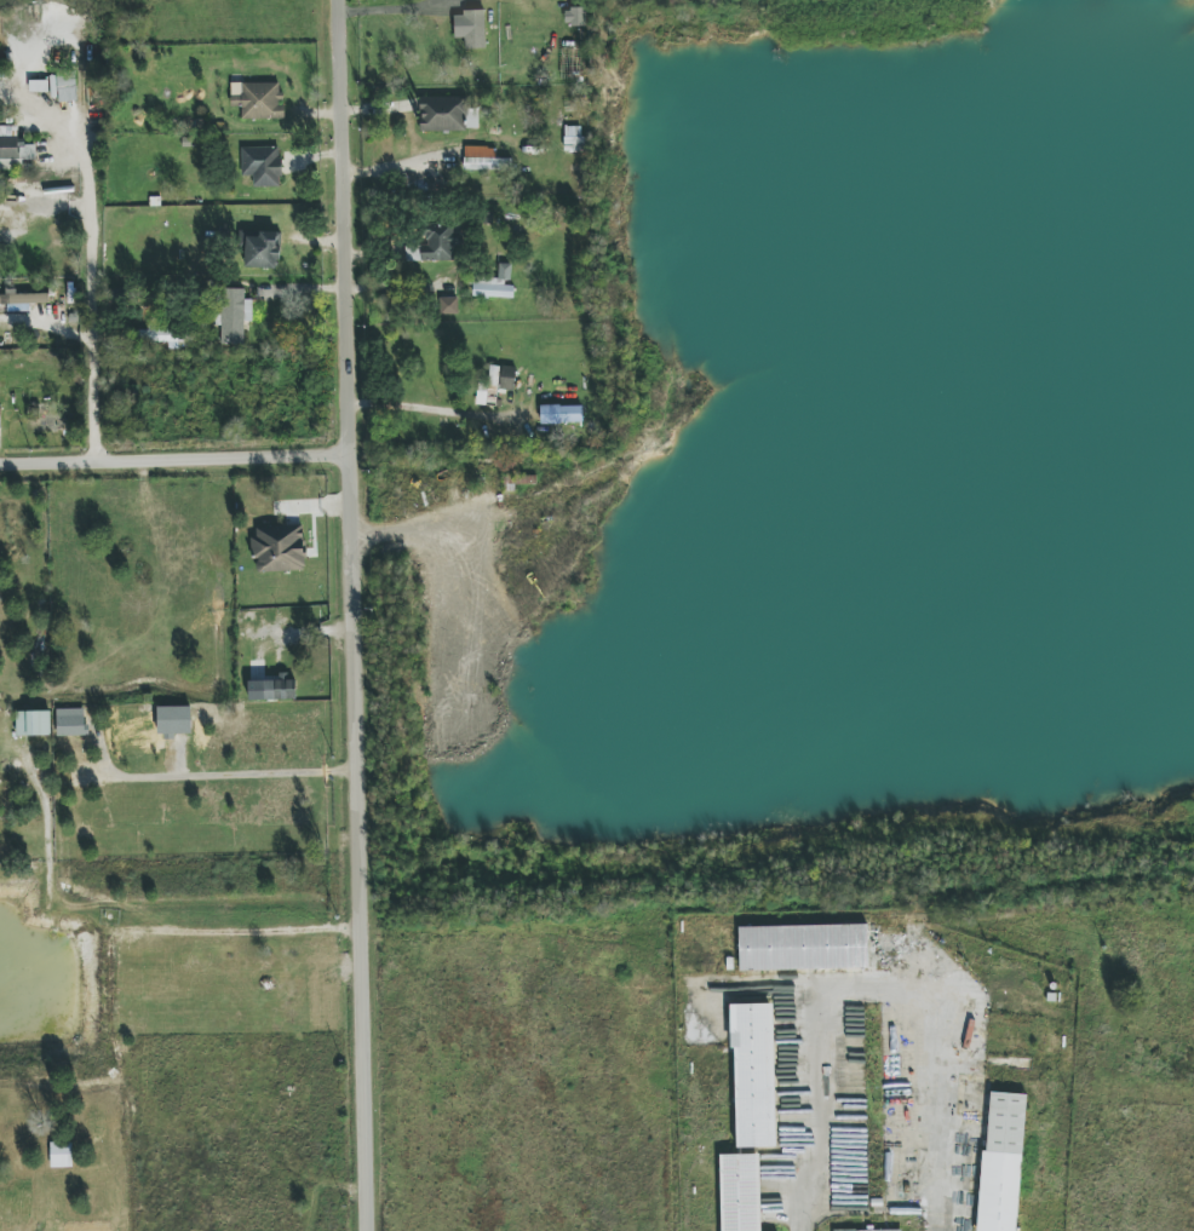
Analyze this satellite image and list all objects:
road: (398, 8)
building: (470, 28)
building: (39, 86)
building: (67, 87)
building: (258, 100)
building: (443, 114)
building: (13, 149)
building: (484, 160)
building: (262, 166)
building: (440, 242)
building: (262, 251)
building: (494, 284)
building: (22, 300)
building: (448, 305)
building: (234, 315)
road: (91, 321)
building: (162, 336)
building: (495, 385)
road: (438, 401)
building: (561, 414)
building: (0, 416)
road: (178, 458)
building: (279, 548)
road: (360, 615)
building: (271, 689)
building: (173, 720)
building: (33, 723)
building: (70, 723)
road: (180, 764)
road: (214, 781)
road: (130, 938)
building: (803, 947)
building: (753, 1075)
building: (61, 1155)
building: (1001, 1162)
building: (740, 1192)
building: (876, 1230)

